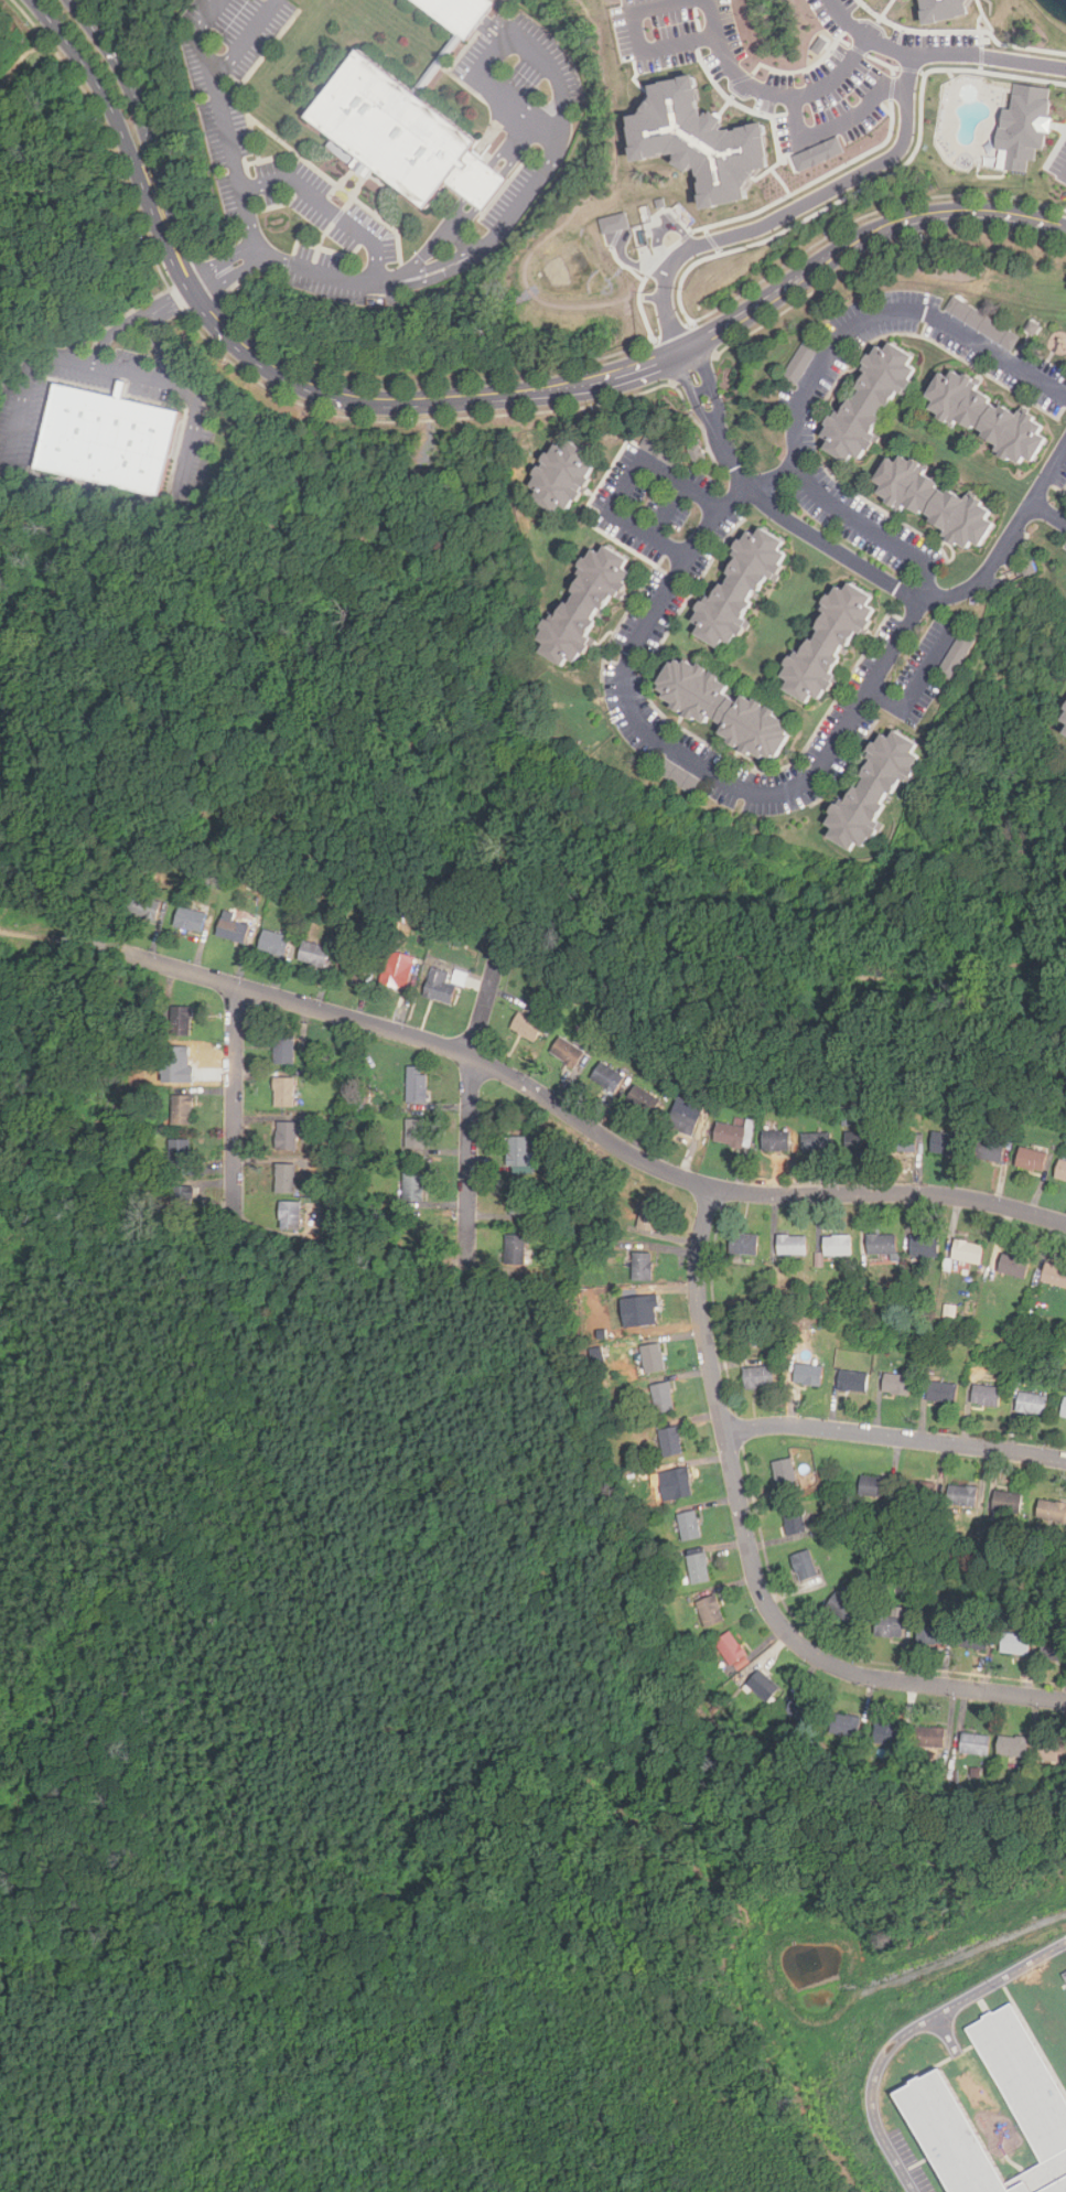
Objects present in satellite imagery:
building: (945, 9)
building: (457, 12)
road: (846, 21)
road: (198, 34)
road: (246, 36)
road: (637, 42)
road: (966, 52)
road: (122, 71)
road: (554, 77)
road: (774, 90)
road: (839, 119)
road: (115, 122)
building: (1024, 125)
building: (402, 136)
road: (509, 140)
building: (701, 141)
road: (519, 148)
building: (819, 153)
road: (237, 161)
road: (477, 182)
road: (491, 191)
road: (822, 194)
road: (166, 204)
road: (332, 208)
building: (615, 223)
road: (452, 234)
road: (435, 237)
road: (463, 240)
road: (227, 267)
road: (437, 268)
road: (332, 276)
road: (439, 276)
road: (889, 310)
road: (134, 315)
road: (671, 318)
building: (981, 322)
road: (155, 332)
building: (804, 355)
road: (614, 373)
road: (25, 375)
road: (190, 395)
building: (869, 398)
building: (986, 415)
building: (107, 436)
building: (559, 475)
road: (626, 483)
building: (933, 501)
road: (1048, 514)
road: (848, 516)
road: (861, 559)
building: (741, 587)
building: (582, 604)
building: (827, 641)
building: (960, 651)
road: (920, 684)
building: (721, 708)
building: (1063, 726)
building: (1065, 737)
road: (696, 762)
building: (682, 777)
building: (875, 789)
building: (143, 906)
building: (190, 918)
building: (231, 927)
building: (273, 943)
building: (314, 954)
building: (352, 967)
building: (397, 969)
building: (440, 986)
building: (181, 1021)
building: (526, 1027)
building: (283, 1050)
building: (567, 1051)
building: (606, 1077)
building: (417, 1084)
building: (284, 1090)
road: (471, 1098)
building: (640, 1098)
road: (235, 1103)
building: (182, 1109)
building: (683, 1116)
road: (584, 1124)
building: (416, 1133)
building: (732, 1135)
building: (287, 1136)
building: (776, 1140)
building: (858, 1140)
building: (901, 1140)
building: (817, 1142)
building: (944, 1143)
building: (989, 1150)
building: (181, 1152)
building: (517, 1152)
building: (1031, 1159)
building: (1060, 1171)
building: (286, 1179)
building: (413, 1186)
building: (183, 1200)
building: (519, 1200)
building: (290, 1215)
building: (648, 1215)
building: (747, 1244)
building: (794, 1245)
building: (882, 1245)
building: (840, 1246)
building: (924, 1246)
building: (515, 1249)
building: (968, 1251)
building: (1013, 1265)
building: (642, 1266)
building: (1054, 1275)
building: (646, 1310)
building: (653, 1358)
building: (814, 1375)
building: (758, 1377)
building: (852, 1382)
building: (896, 1384)
building: (941, 1392)
building: (986, 1395)
building: (663, 1397)
building: (1031, 1404)
building: (1064, 1408)
road: (896, 1436)
building: (670, 1441)
building: (783, 1472)
building: (680, 1482)
building: (874, 1486)
building: (922, 1494)
building: (961, 1495)
building: (1005, 1502)
building: (1052, 1511)
building: (794, 1519)
building: (689, 1525)
road: (753, 1556)
building: (804, 1565)
building: (698, 1568)
building: (842, 1603)
building: (710, 1611)
building: (889, 1626)
building: (930, 1634)
building: (972, 1638)
building: (1015, 1643)
building: (730, 1648)
building: (1054, 1650)
building: (763, 1685)
building: (803, 1709)
building: (846, 1726)
building: (886, 1734)
building: (930, 1739)
building: (975, 1744)
building: (1013, 1747)
building: (1052, 1752)
building: (1064, 1976)
building: (927, 2096)

